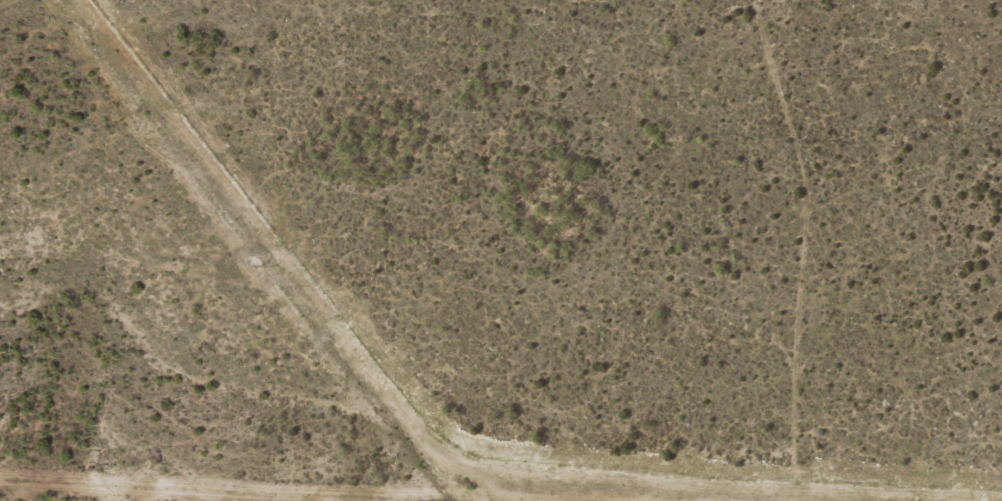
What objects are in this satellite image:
road: (785, 258)

